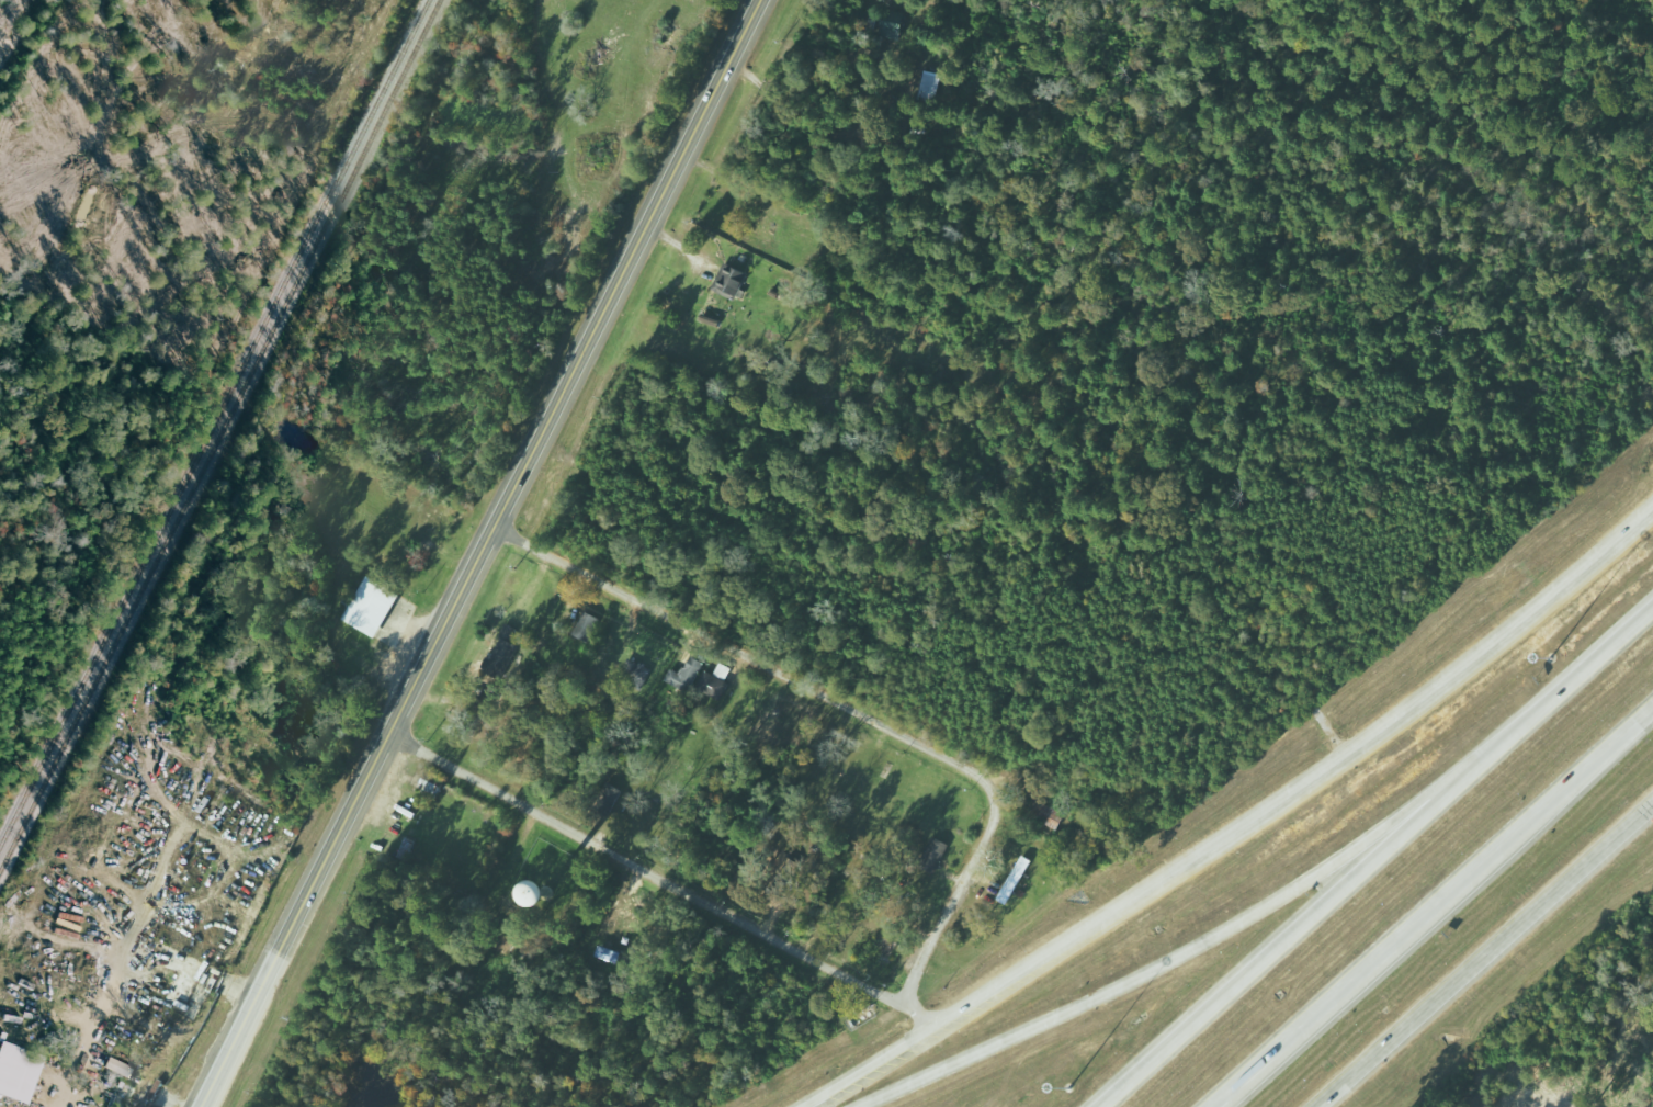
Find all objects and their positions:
building: (890, 24)
building: (927, 86)
building: (731, 281)
railway: (214, 426)
railway: (220, 437)
road: (483, 553)
building: (372, 606)
building: (588, 624)
road: (749, 658)
building: (635, 673)
building: (686, 675)
building: (714, 681)
road: (1543, 708)
building: (609, 798)
road: (1256, 843)
building: (933, 854)
building: (1015, 879)
road: (672, 883)
building: (554, 889)
road: (950, 903)
road: (1433, 907)
road: (1266, 956)
road: (1487, 956)
road: (1144, 974)
building: (120, 1068)
building: (19, 1071)
building: (120, 1100)

